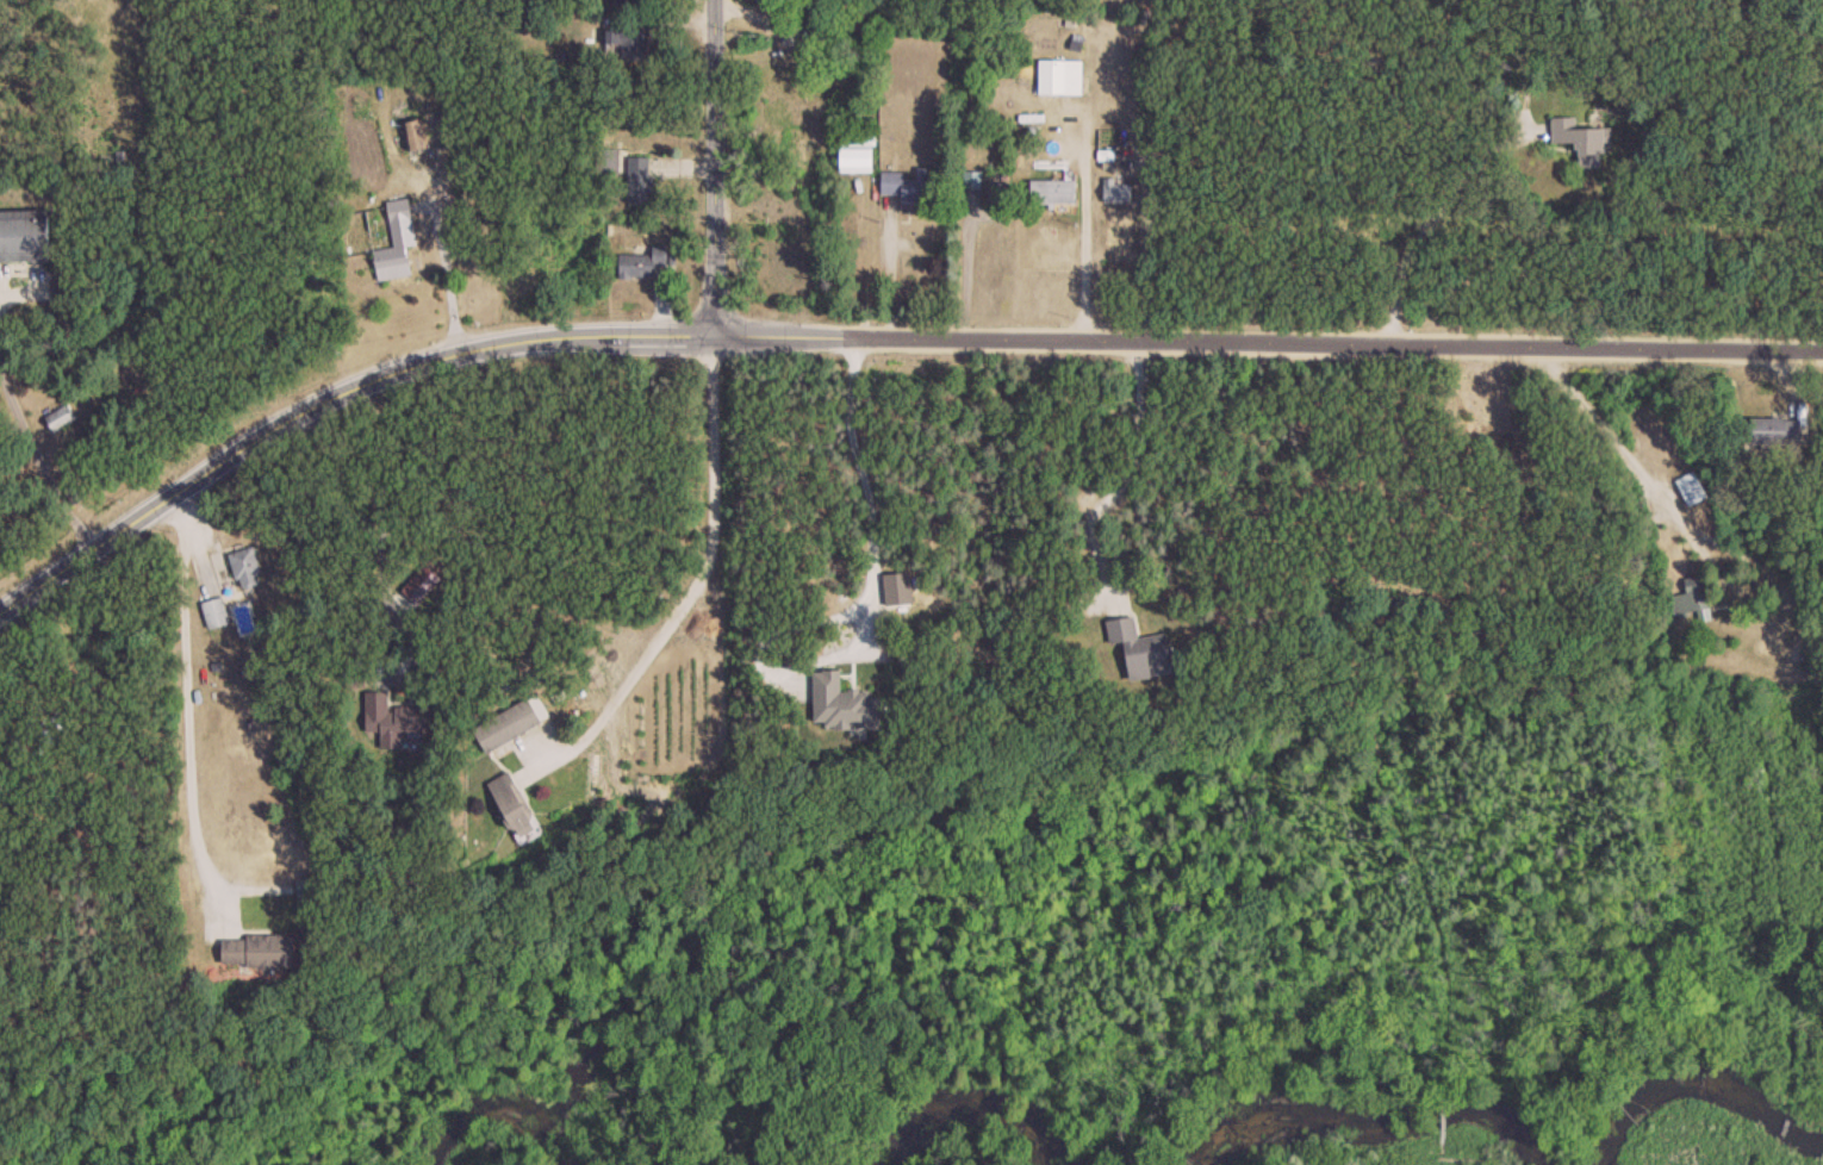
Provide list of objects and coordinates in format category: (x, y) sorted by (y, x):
building: (628, 0)
building: (814, 11)
building: (814, 33)
building: (627, 44)
building: (1060, 77)
building: (415, 136)
building: (1582, 141)
building: (858, 160)
road: (715, 166)
road: (1088, 174)
building: (640, 180)
building: (914, 187)
building: (1054, 193)
building: (1118, 193)
road: (1435, 212)
building: (25, 237)
road: (1147, 237)
building: (398, 238)
building: (643, 262)
road: (891, 267)
road: (444, 284)
road: (873, 332)
building: (61, 419)
building: (1778, 431)
road: (41, 455)
road: (1635, 466)
road: (1132, 471)
building: (1691, 488)
building: (247, 569)
road: (701, 574)
building: (1694, 599)
road: (867, 608)
building: (216, 613)
building: (1143, 650)
road: (189, 684)
building: (844, 705)
building: (405, 724)
building: (508, 727)
building: (2, 784)
building: (516, 809)
building: (305, 896)
building: (260, 954)

